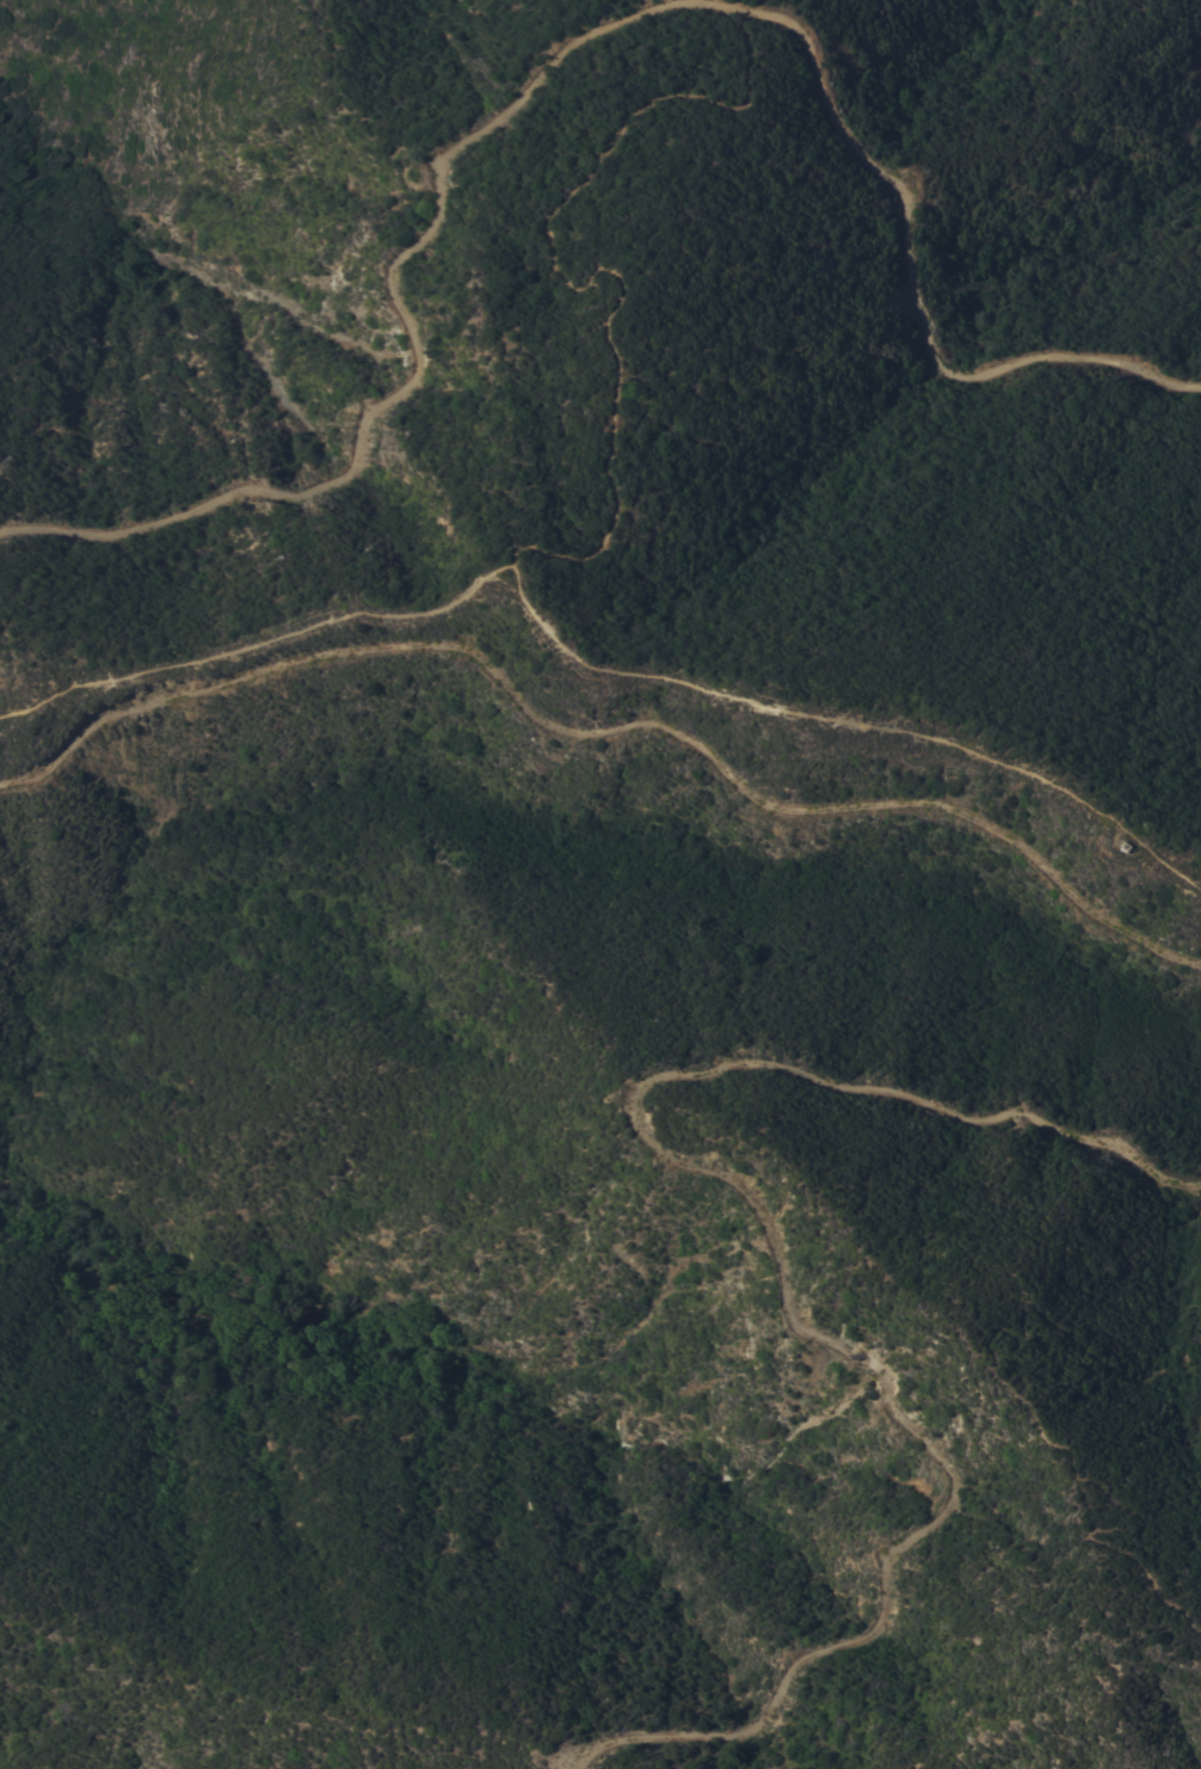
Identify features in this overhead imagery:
road: (1029, 2)
road: (573, 38)
road: (621, 503)
road: (852, 715)
road: (606, 726)
road: (774, 1247)

